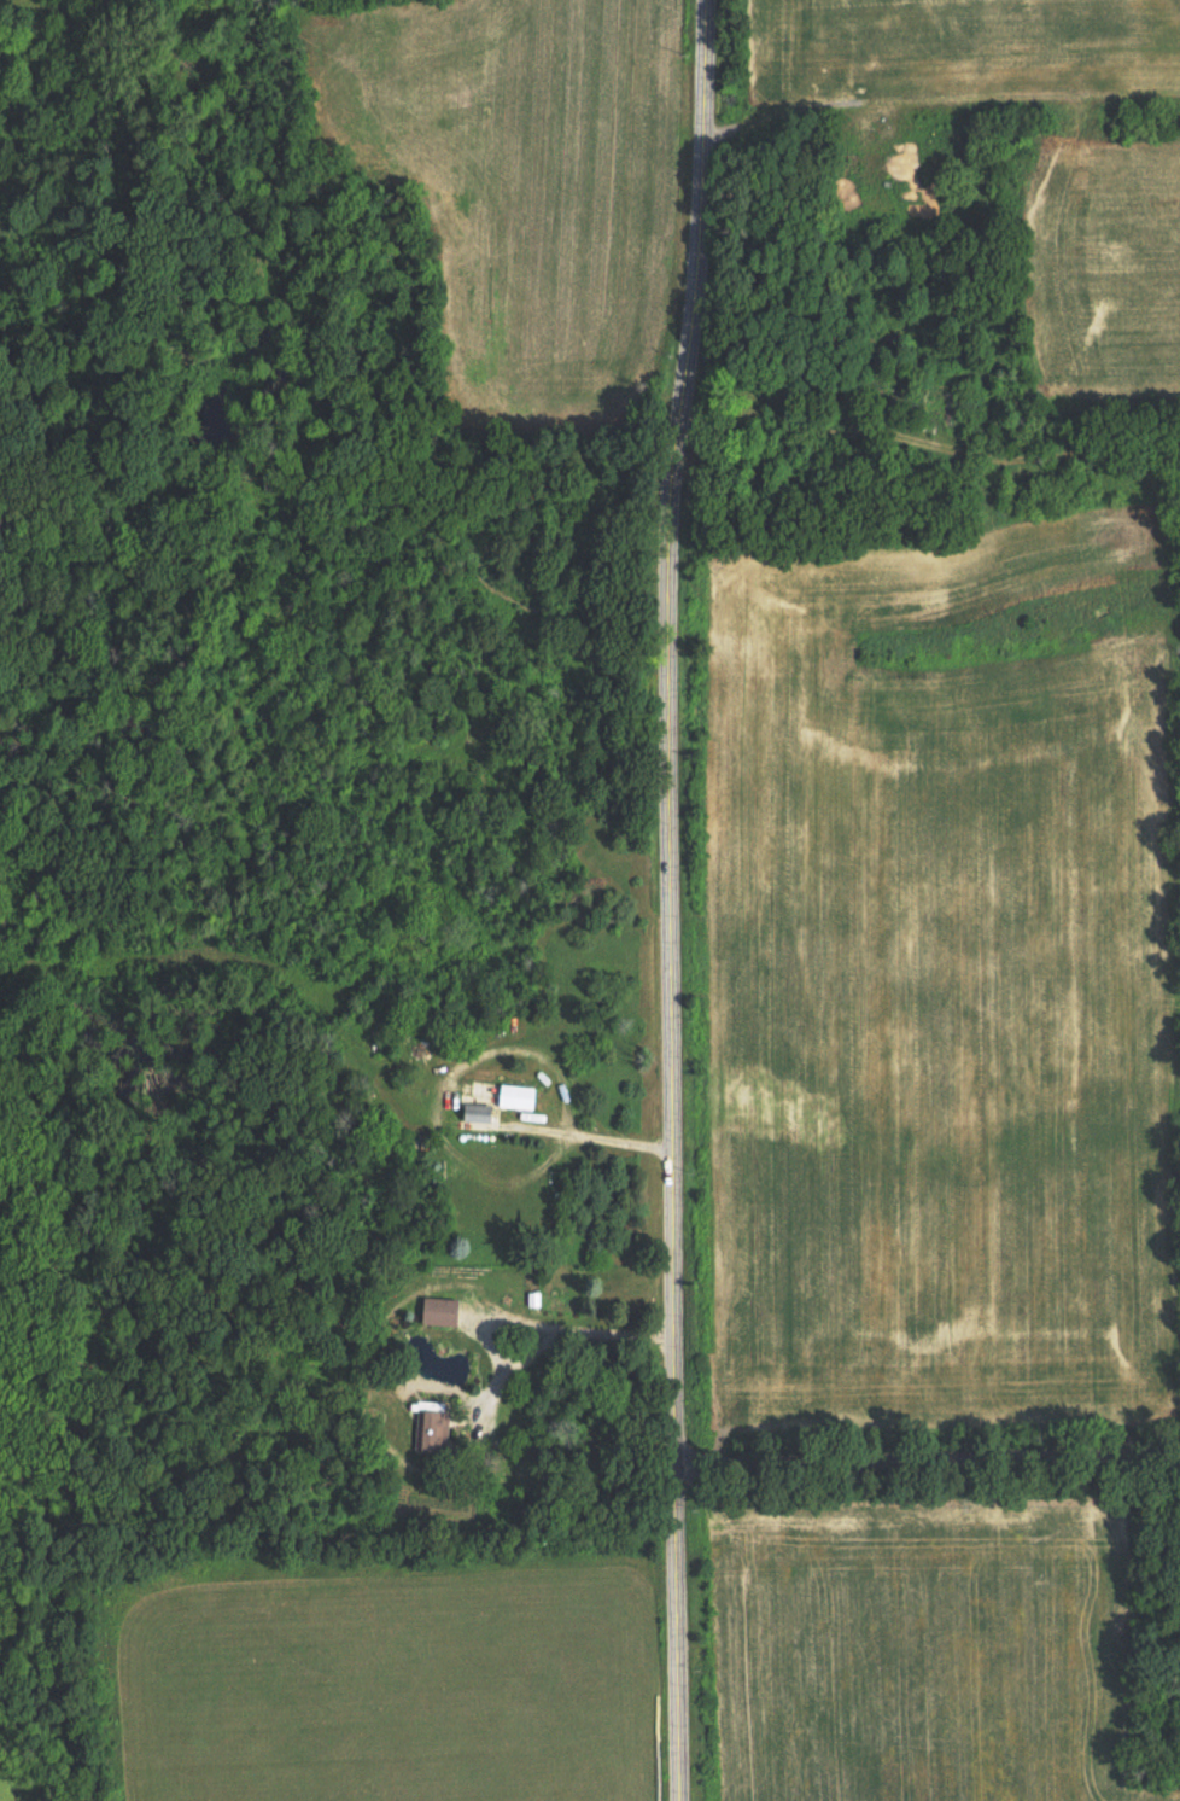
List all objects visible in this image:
road: (673, 899)
building: (520, 1097)
building: (480, 1115)
building: (434, 1309)
building: (426, 1426)
road: (927, 1463)

